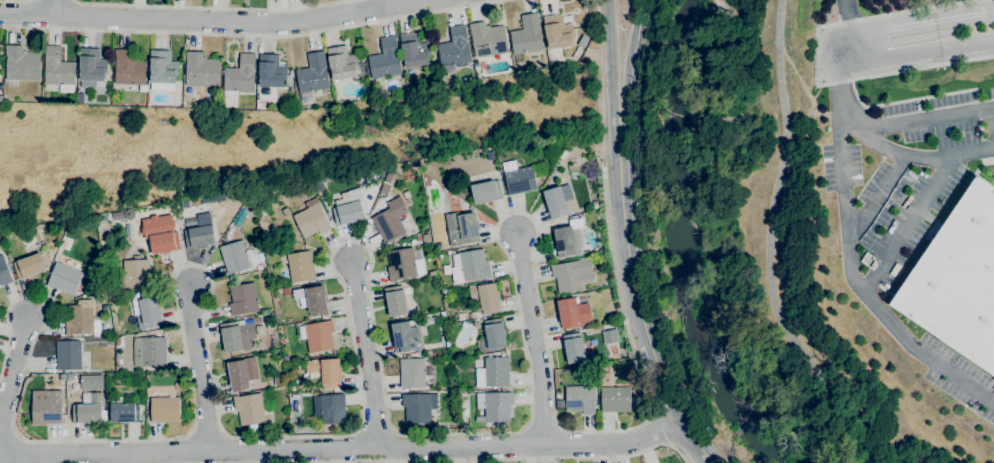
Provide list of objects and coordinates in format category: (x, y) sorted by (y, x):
road: (13, 2)
road: (55, 5)
road: (210, 7)
parking lot: (846, 7)
road: (27, 10)
road: (235, 13)
road: (901, 13)
road: (990, 13)
road: (597, 17)
road: (848, 17)
road: (920, 24)
building: (556, 32)
road: (252, 35)
building: (526, 35)
road: (845, 36)
building: (487, 39)
building: (579, 47)
building: (453, 48)
building: (414, 50)
road: (838, 52)
road: (916, 53)
building: (385, 59)
building: (341, 63)
building: (21, 64)
building: (90, 68)
building: (128, 68)
building: (58, 70)
building: (200, 70)
building: (162, 71)
building: (270, 71)
road: (905, 71)
building: (312, 73)
building: (239, 76)
building: (0, 85)
building: (377, 85)
building: (265, 90)
road: (840, 96)
road: (799, 97)
building: (0, 98)
building: (102, 99)
road: (918, 118)
road: (630, 121)
road: (615, 122)
road: (915, 157)
parking lot: (902, 176)
building: (520, 177)
building: (386, 182)
building: (485, 191)
road: (876, 198)
building: (557, 200)
building: (348, 208)
building: (285, 212)
building: (115, 216)
building: (311, 219)
building: (391, 221)
building: (264, 222)
road: (910, 226)
building: (217, 228)
building: (461, 228)
building: (200, 233)
building: (160, 234)
building: (226, 236)
building: (119, 238)
building: (426, 239)
building: (568, 239)
road: (358, 241)
river: (675, 244)
building: (40, 245)
road: (772, 253)
building: (237, 257)
building: (603, 262)
building: (403, 265)
building: (29, 266)
building: (300, 267)
building: (470, 267)
building: (4, 272)
building: (431, 273)
building: (136, 274)
building: (572, 275)
building: (64, 279)
building: (957, 279)
building: (286, 291)
road: (864, 293)
building: (88, 294)
building: (143, 294)
road: (637, 294)
building: (485, 297)
building: (243, 299)
building: (312, 299)
building: (395, 301)
building: (147, 311)
building: (573, 313)
building: (270, 316)
building: (81, 319)
building: (494, 333)
building: (317, 335)
building: (609, 336)
building: (237, 337)
building: (405, 337)
road: (534, 338)
building: (118, 345)
building: (573, 348)
building: (149, 351)
road: (366, 353)
building: (68, 355)
building: (285, 356)
building: (287, 364)
road: (198, 367)
road: (13, 370)
building: (324, 372)
building: (493, 372)
building: (411, 373)
building: (75, 375)
building: (236, 375)
building: (61, 376)
building: (177, 378)
building: (109, 379)
road: (664, 383)
building: (178, 386)
building: (300, 387)
building: (461, 395)
building: (293, 396)
building: (580, 399)
building: (615, 399)
building: (494, 406)
building: (47, 408)
building: (249, 408)
building: (329, 408)
building: (88, 409)
building: (164, 409)
building: (418, 409)
building: (123, 411)
road: (660, 429)
road: (696, 443)
road: (342, 449)
road: (506, 459)

